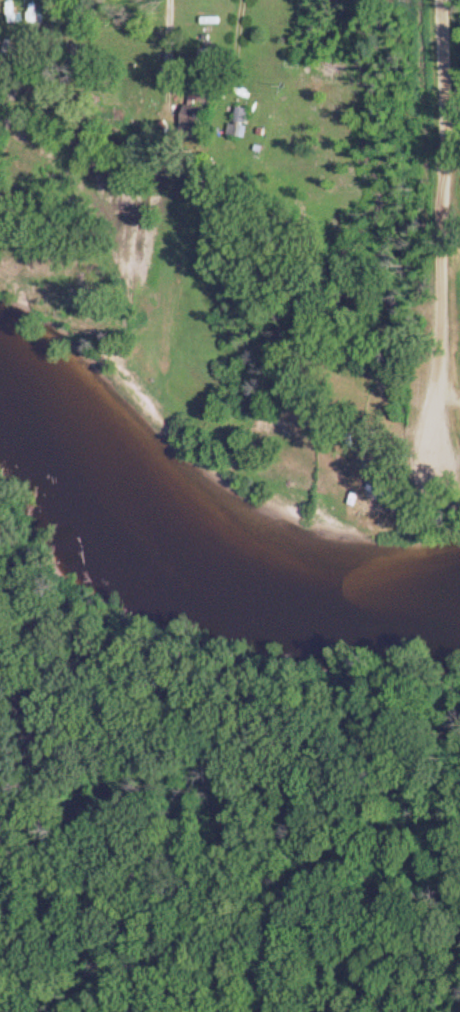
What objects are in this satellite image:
road: (173, 27)
building: (203, 87)
building: (192, 118)
road: (441, 211)
river: (204, 552)

